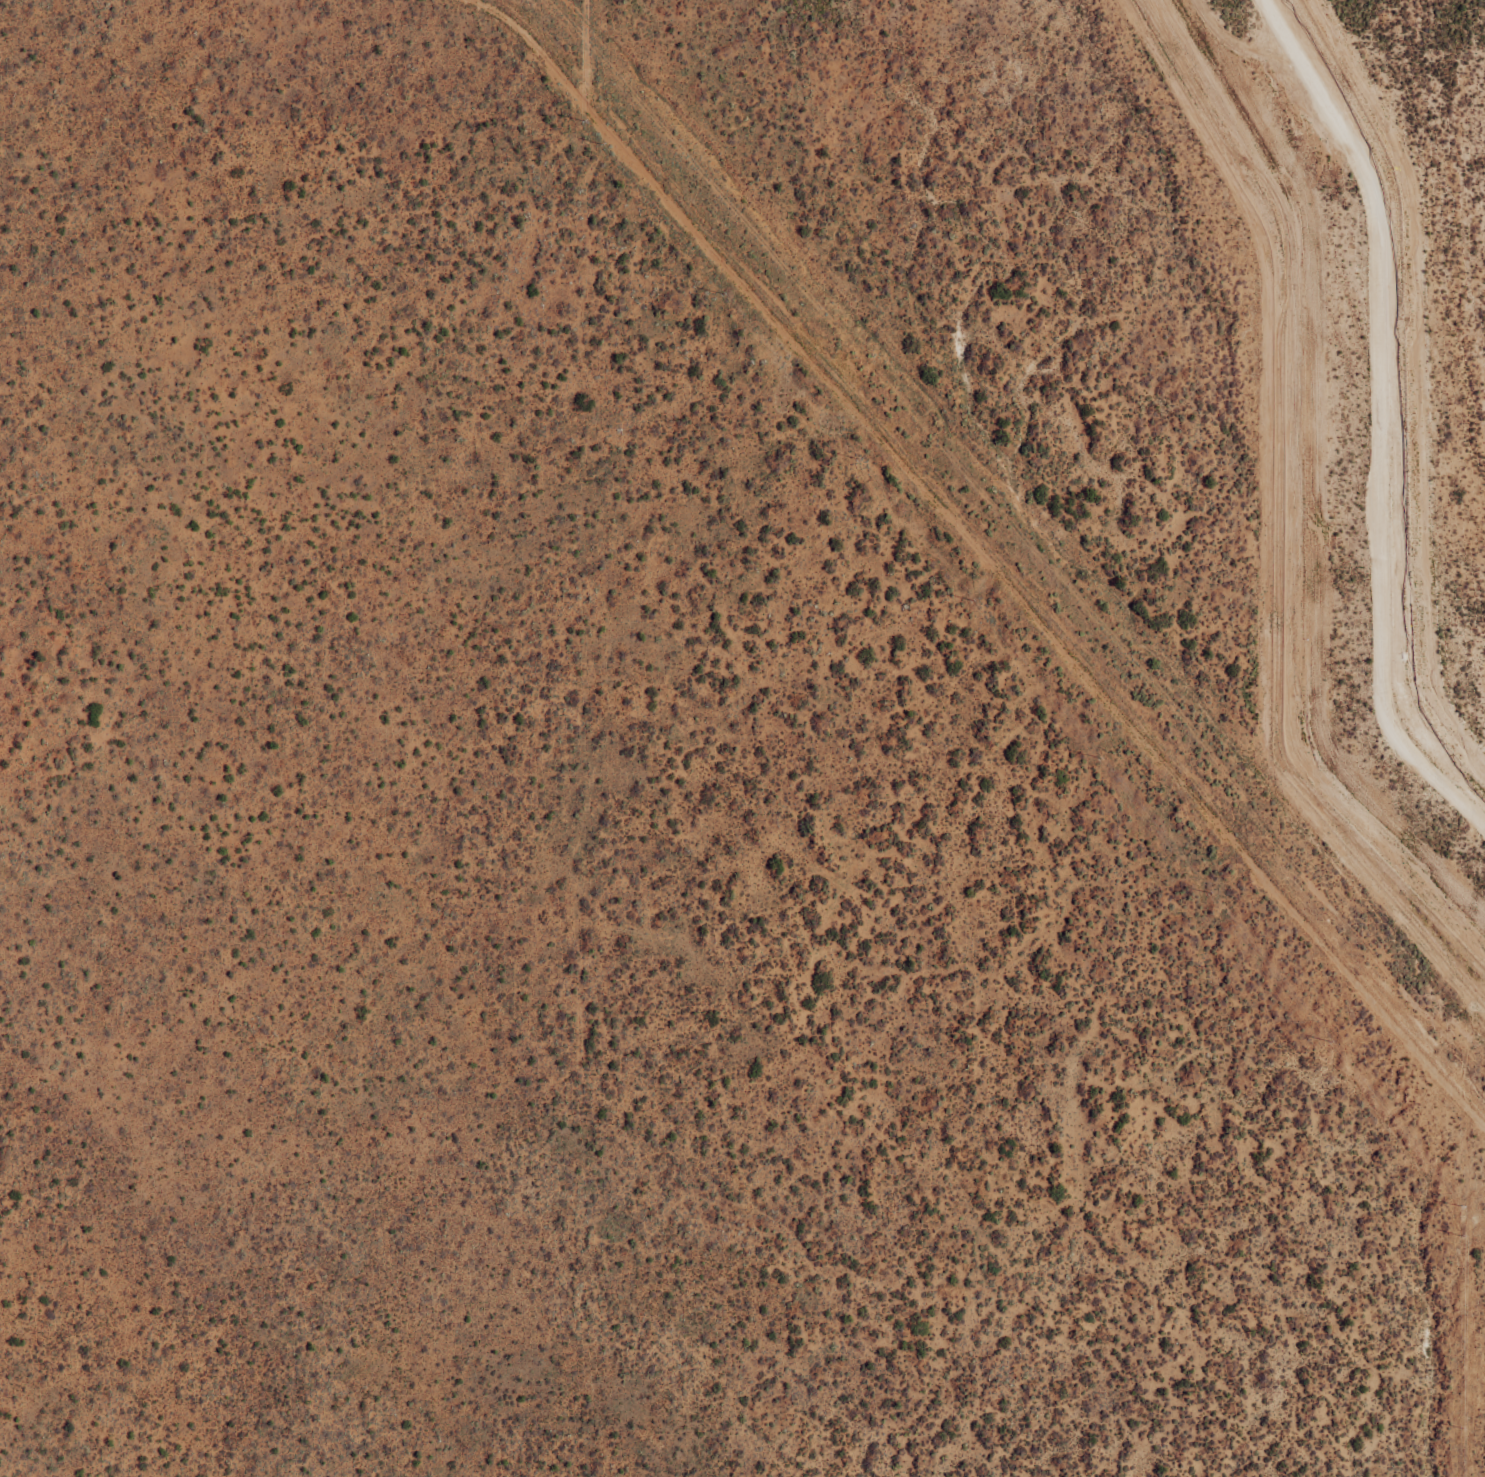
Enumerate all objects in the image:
road: (1374, 427)

